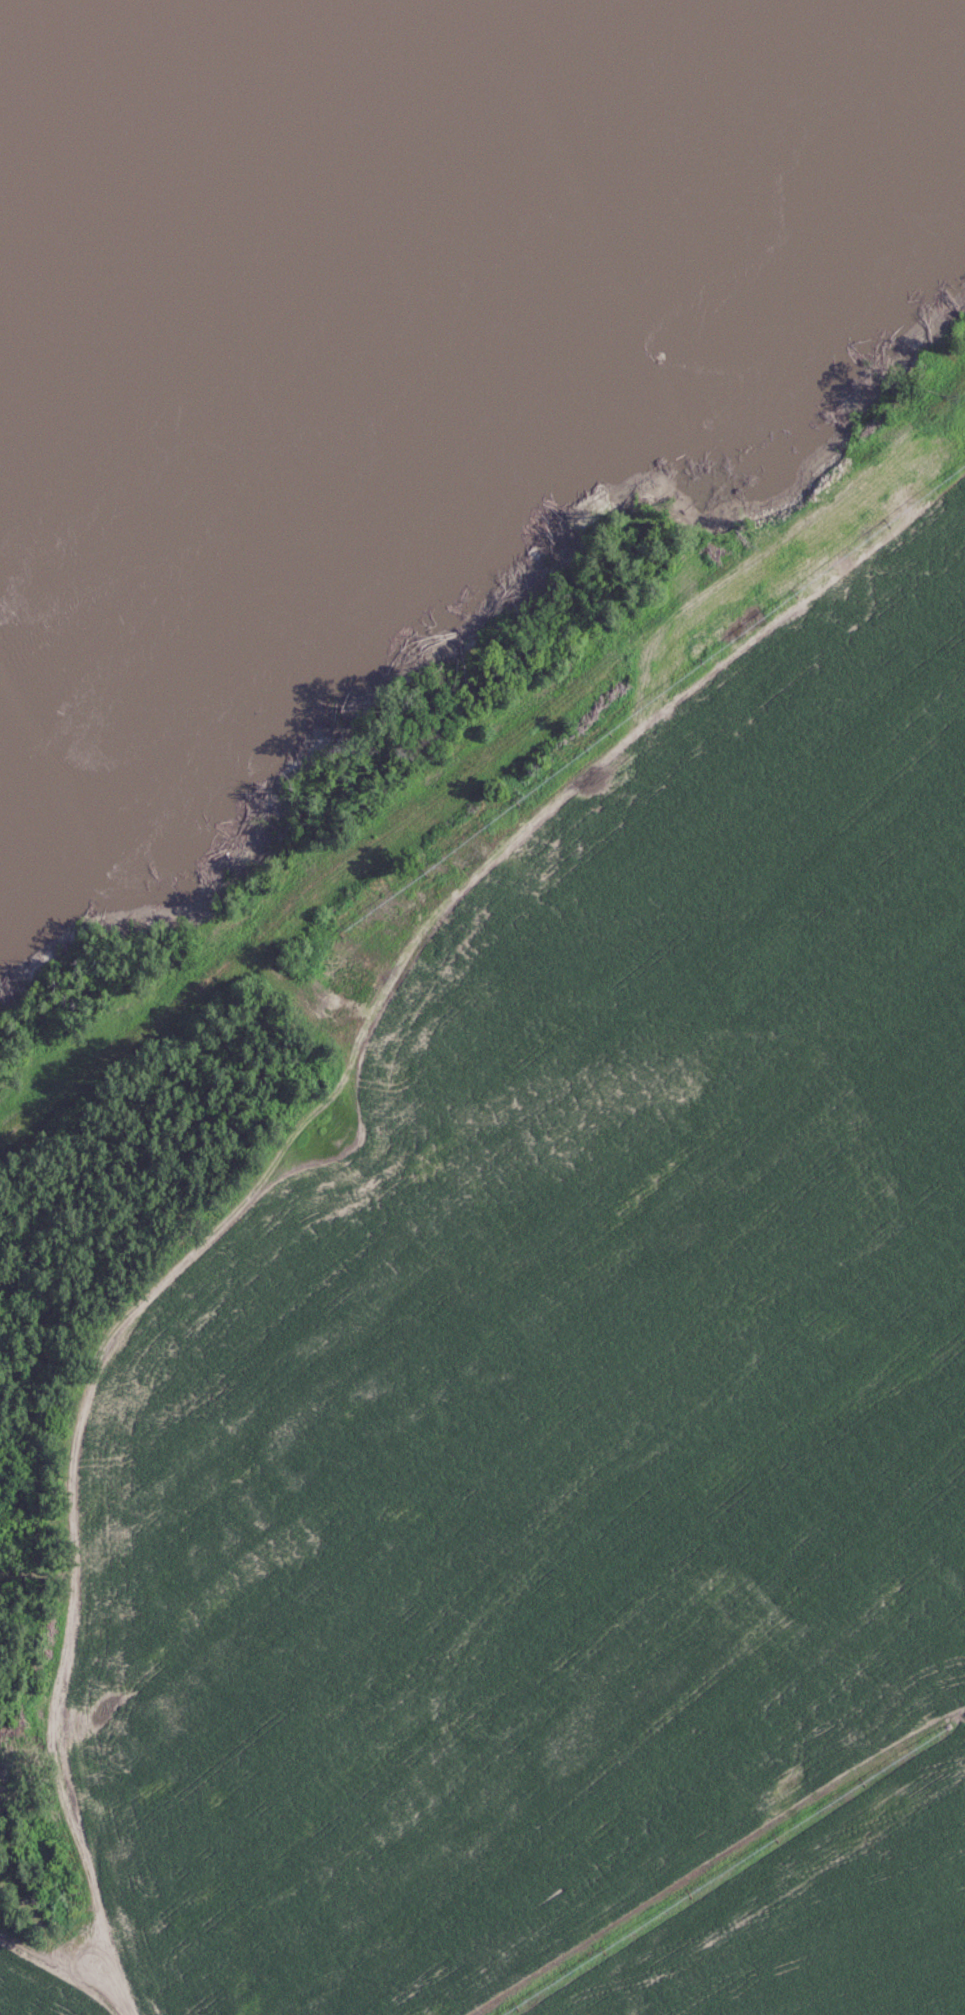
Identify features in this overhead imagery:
river: (255, 161)

